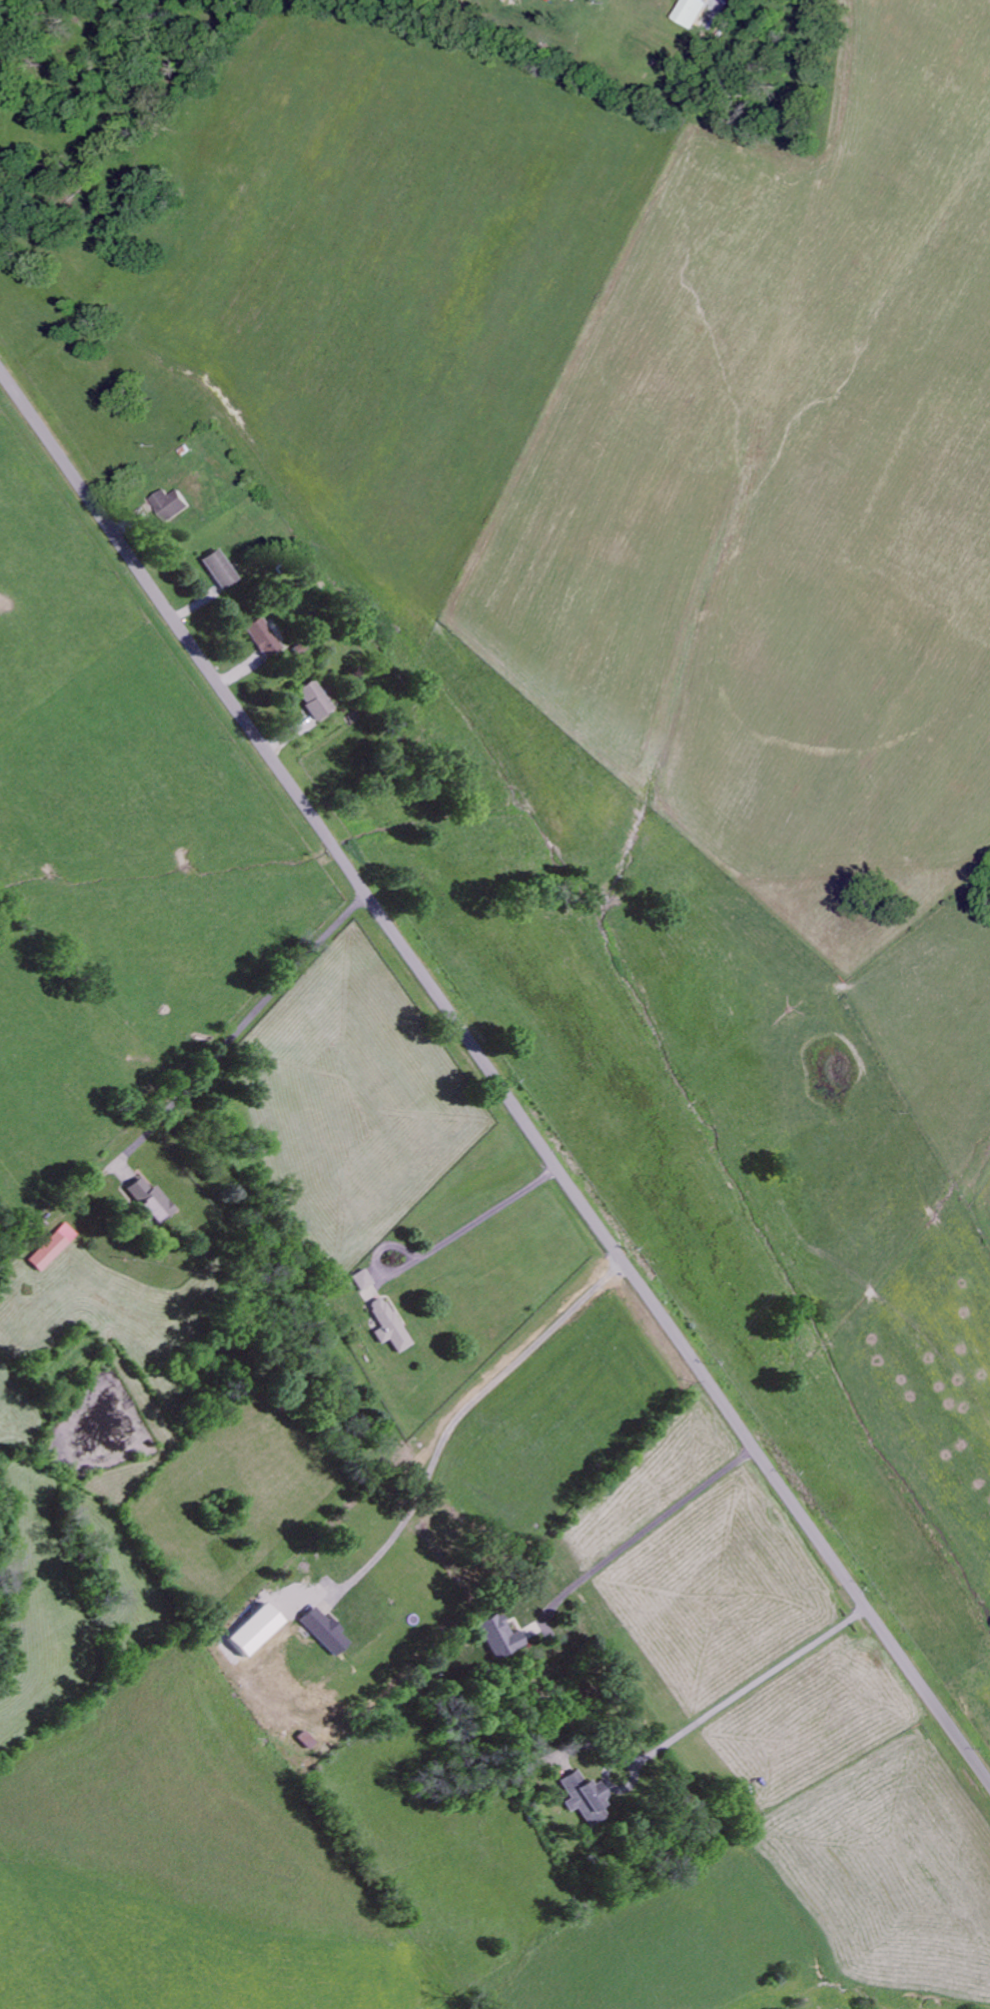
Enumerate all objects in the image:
building: (691, 12)
building: (173, 505)
building: (218, 569)
building: (261, 638)
building: (312, 700)
road: (212, 1055)
road: (493, 1073)
building: (147, 1201)
road: (473, 1215)
building: (52, 1246)
building: (362, 1279)
building: (389, 1325)
road: (460, 1414)
road: (642, 1532)
building: (324, 1631)
building: (496, 1636)
road: (758, 1680)
building: (583, 1798)

